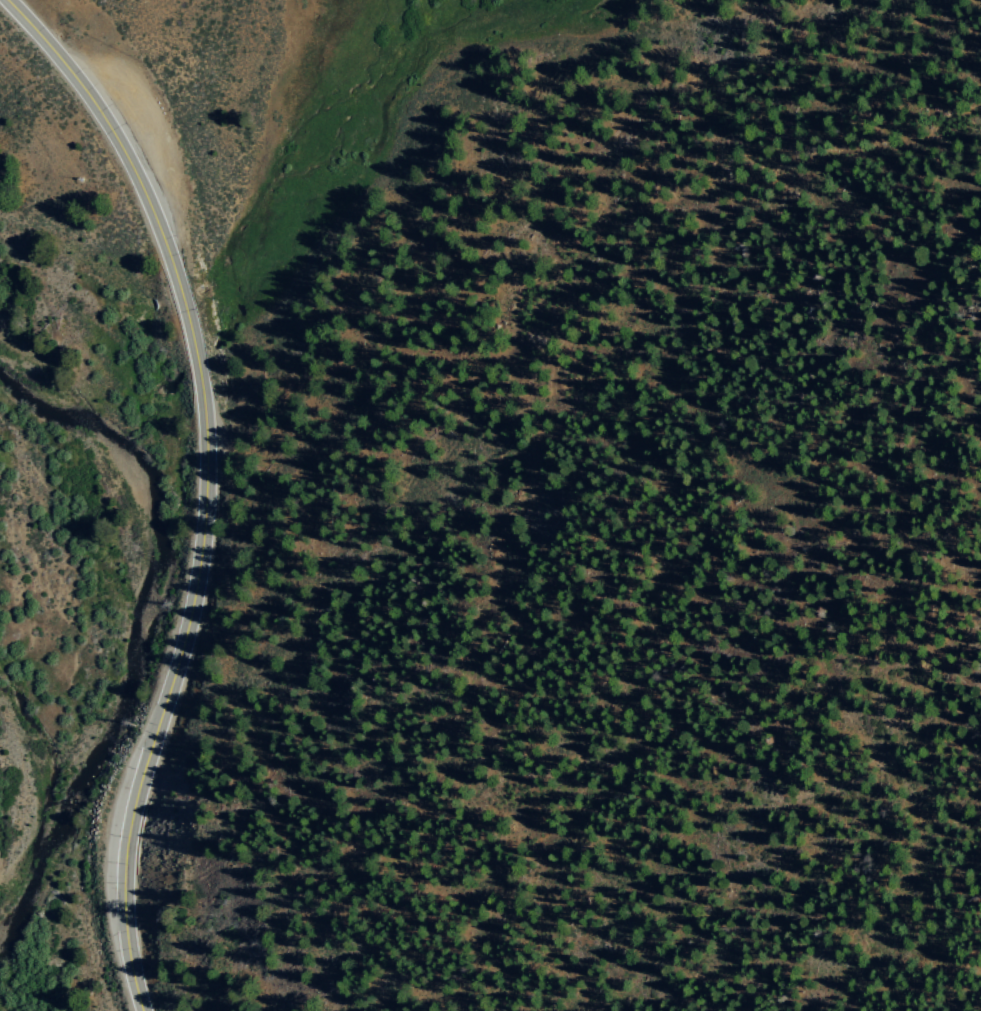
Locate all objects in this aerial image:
parking lot: (136, 136)
road: (207, 484)
river: (161, 611)

